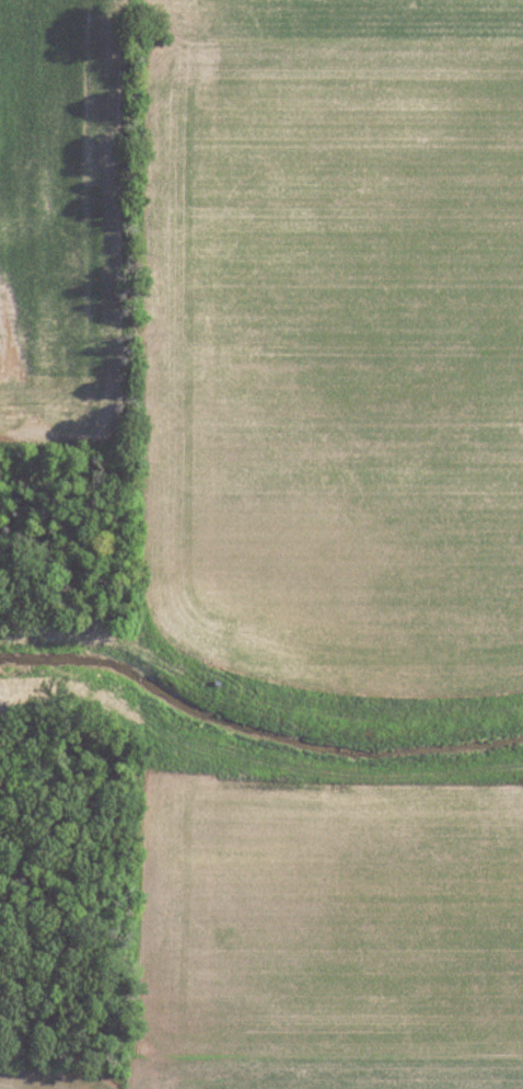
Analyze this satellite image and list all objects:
river: (253, 732)

